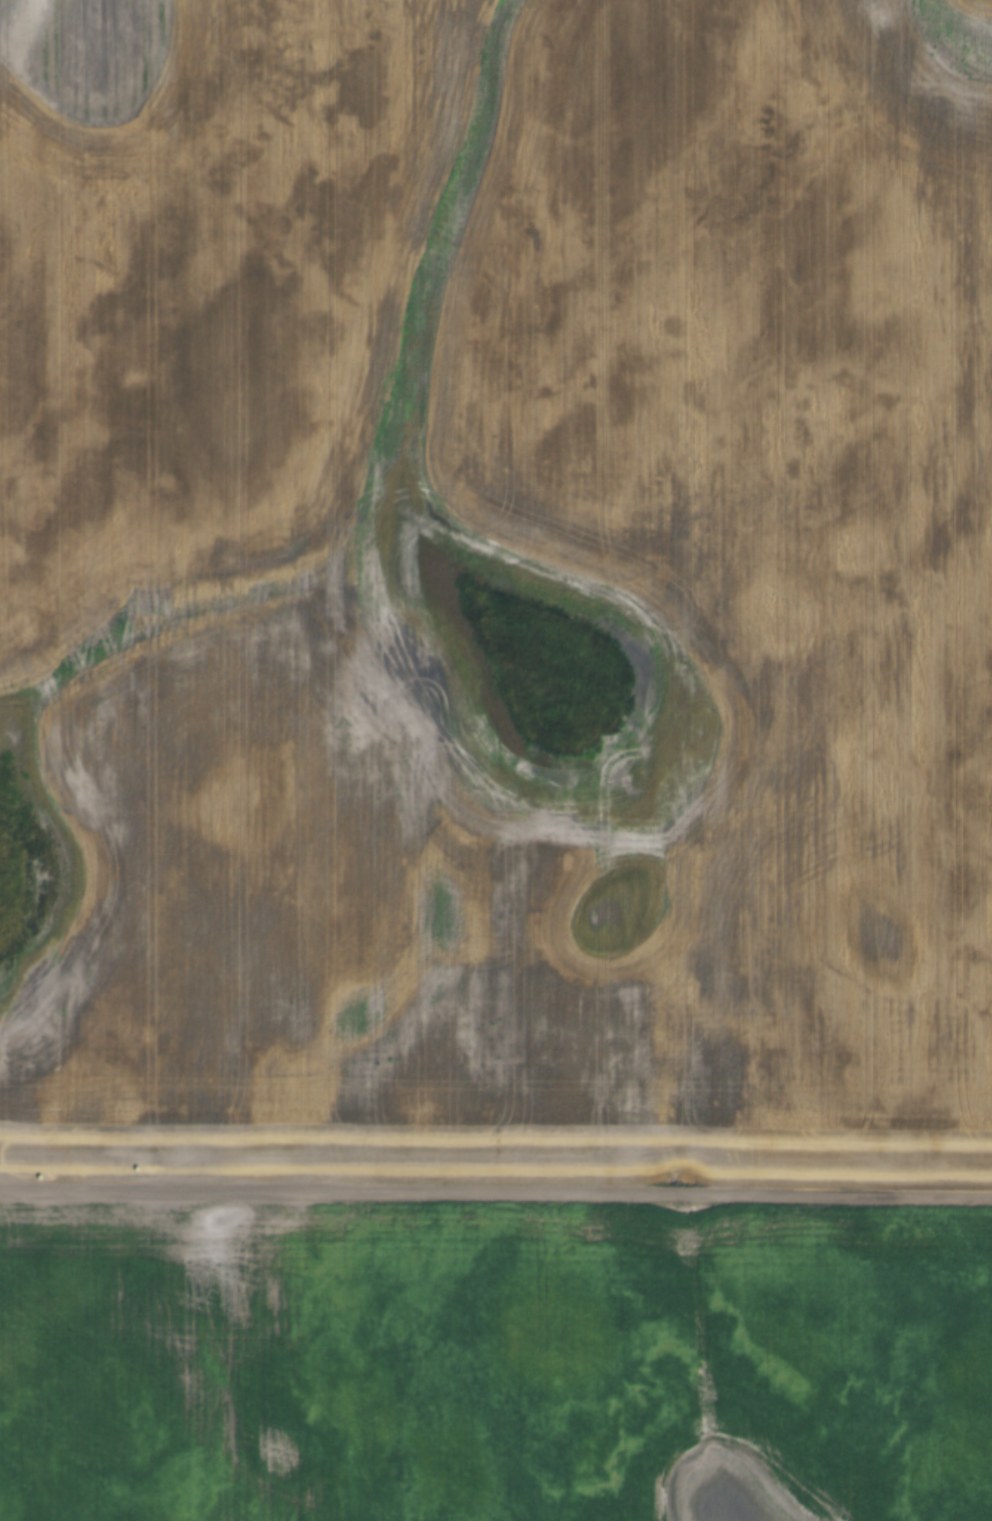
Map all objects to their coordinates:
road: (496, 1194)

